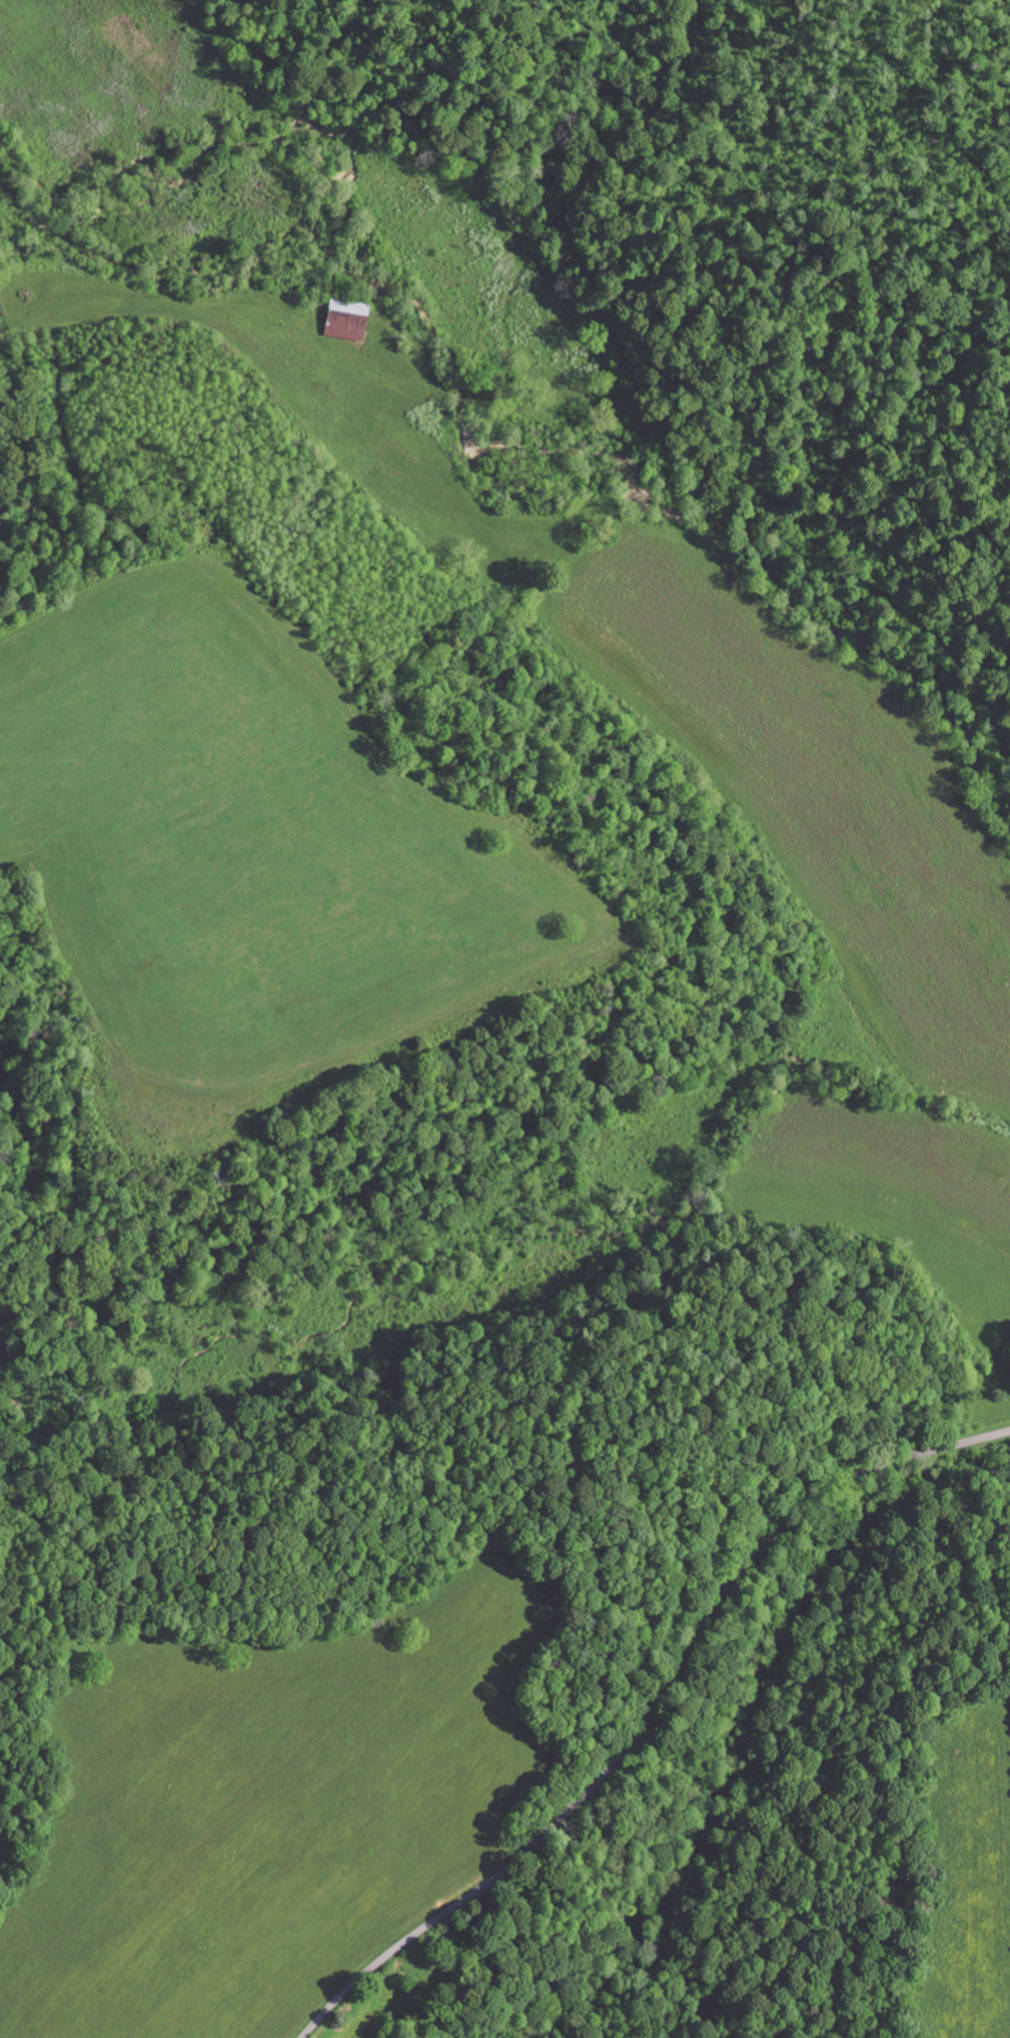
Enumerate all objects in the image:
road: (353, 15)
building: (353, 319)
road: (357, 333)
road: (648, 396)
road: (651, 1715)

